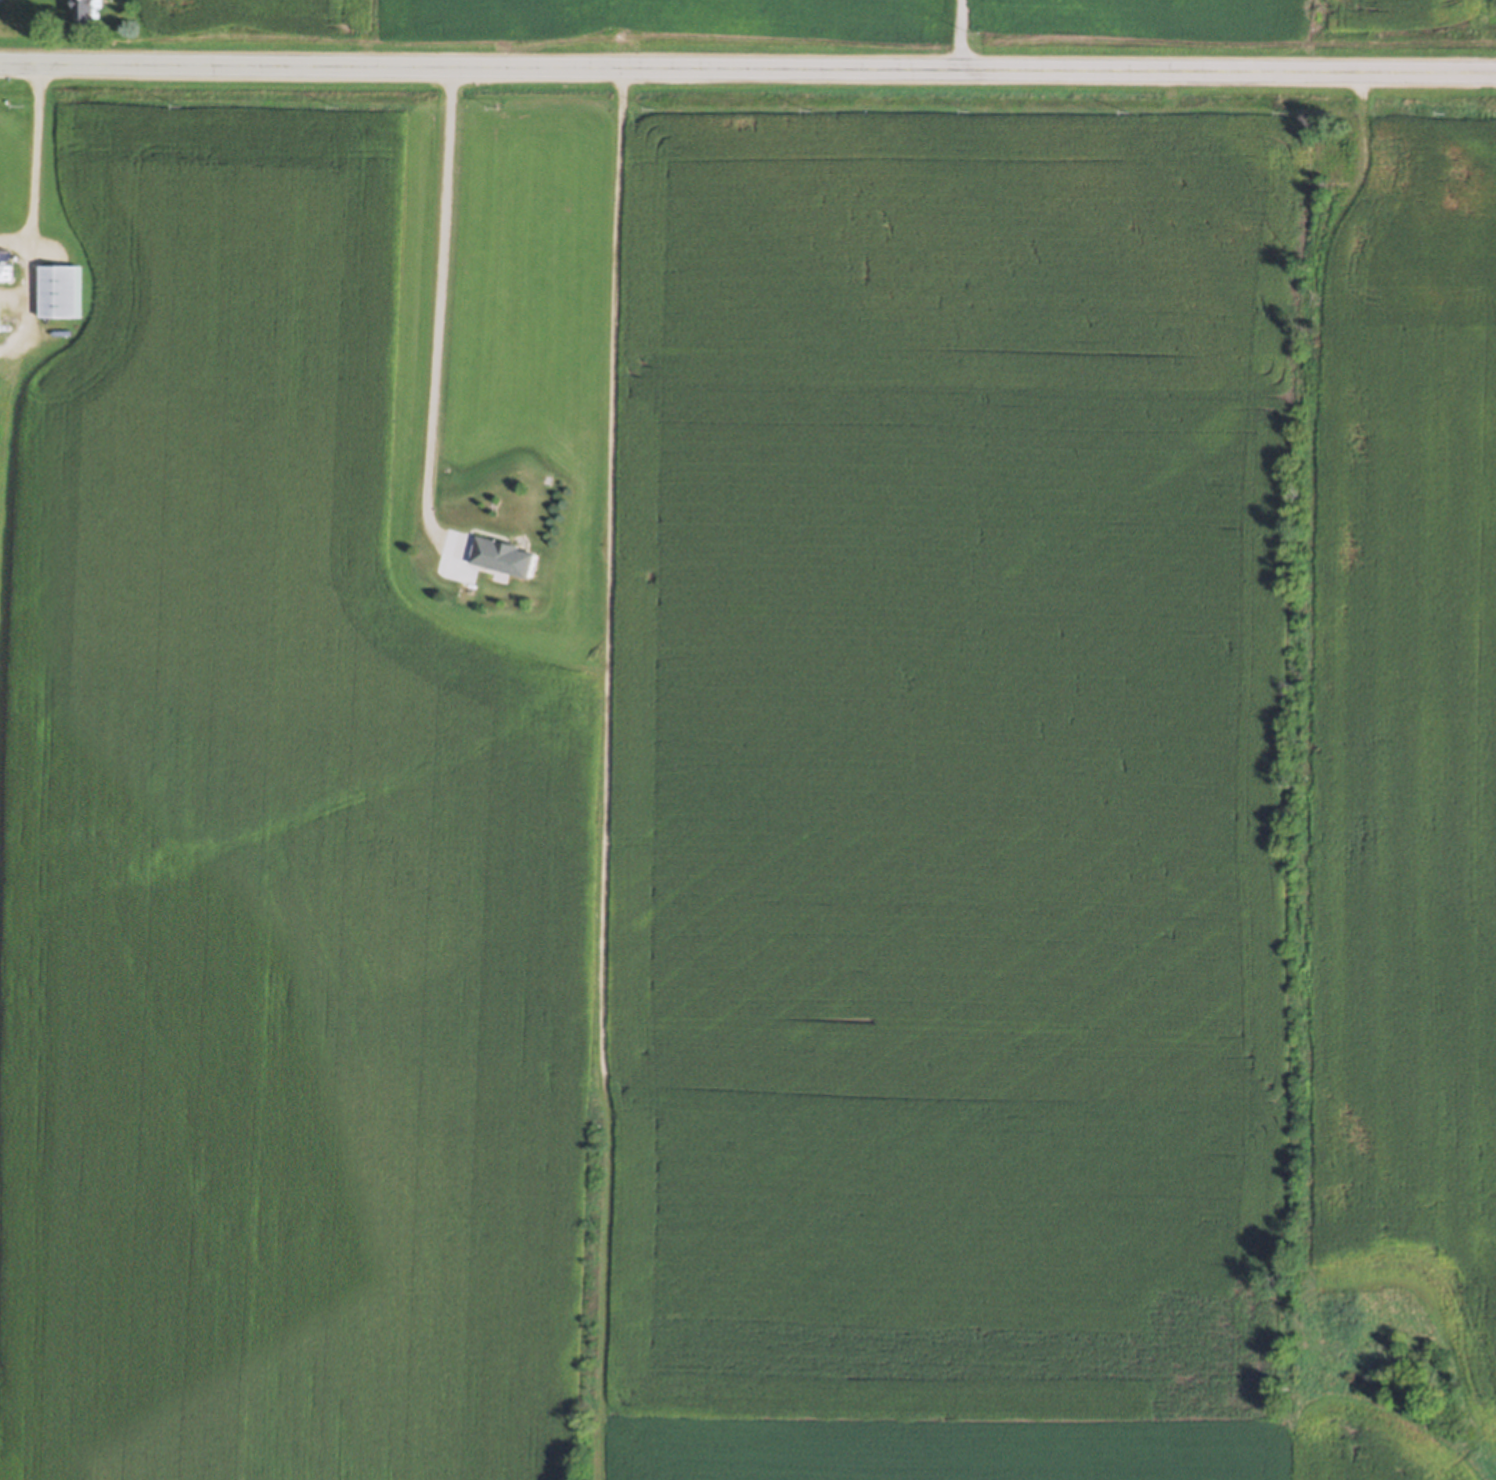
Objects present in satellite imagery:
building: (89, 12)
road: (960, 33)
road: (747, 65)
road: (36, 163)
building: (7, 272)
building: (61, 292)
road: (438, 310)
building: (505, 557)

